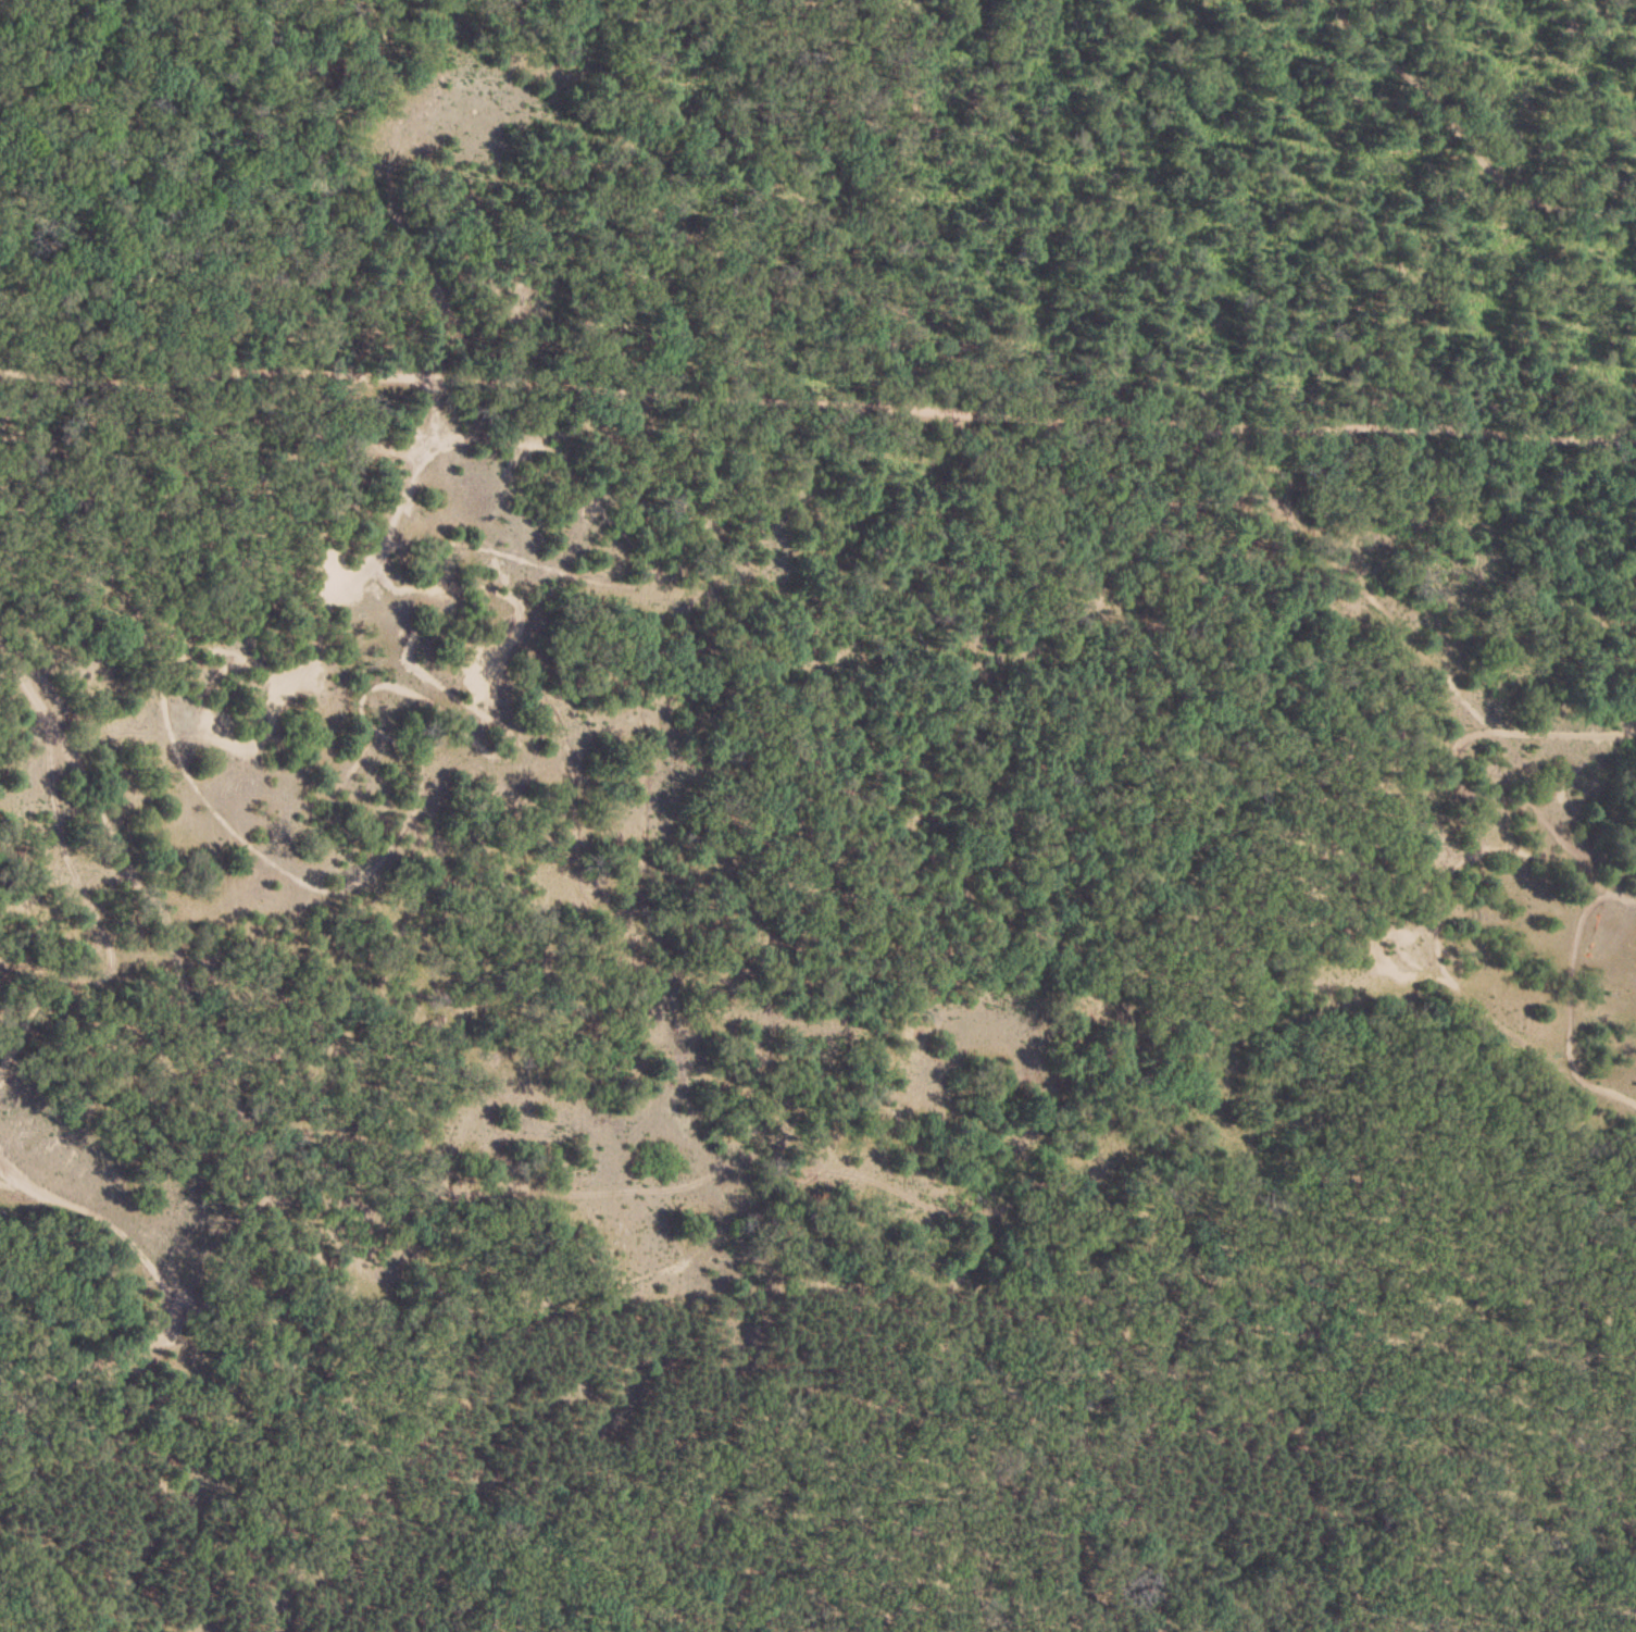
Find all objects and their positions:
road: (816, 377)
road: (235, 1052)

